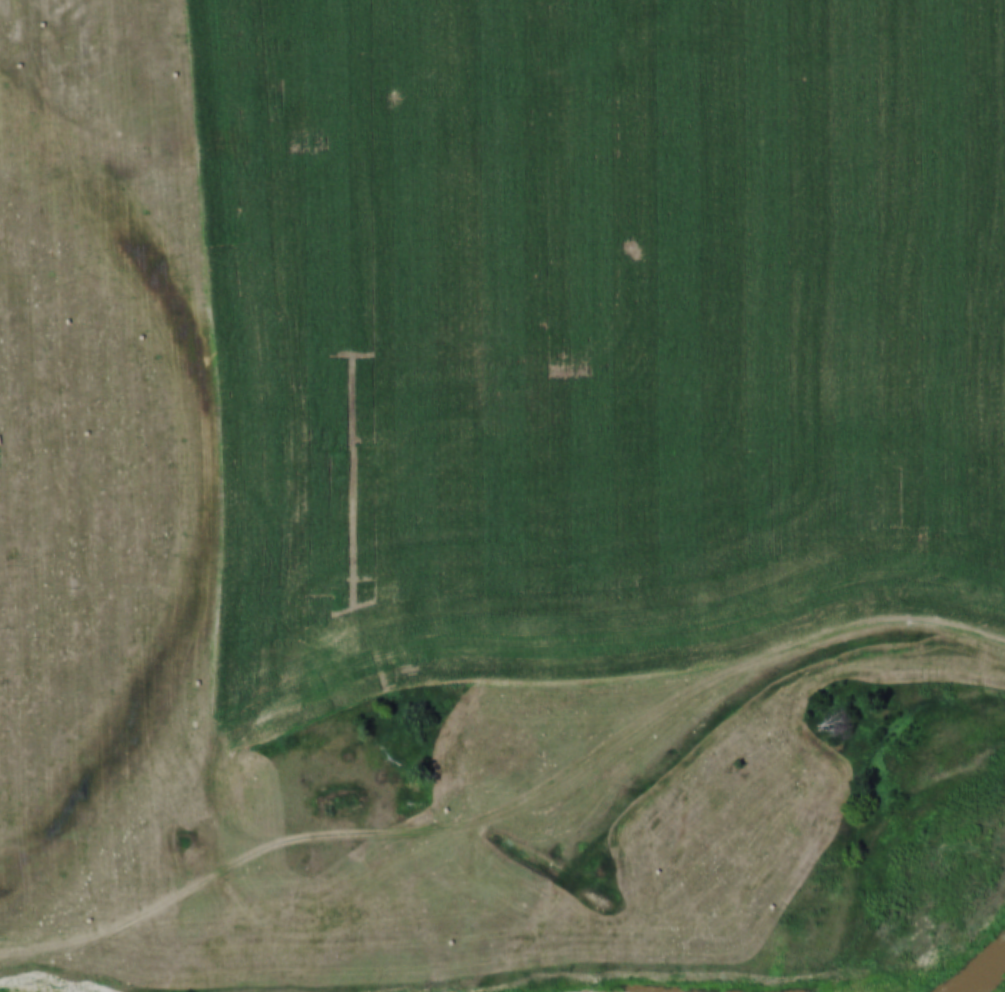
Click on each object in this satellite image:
road: (508, 805)
river: (976, 966)
river: (619, 987)

